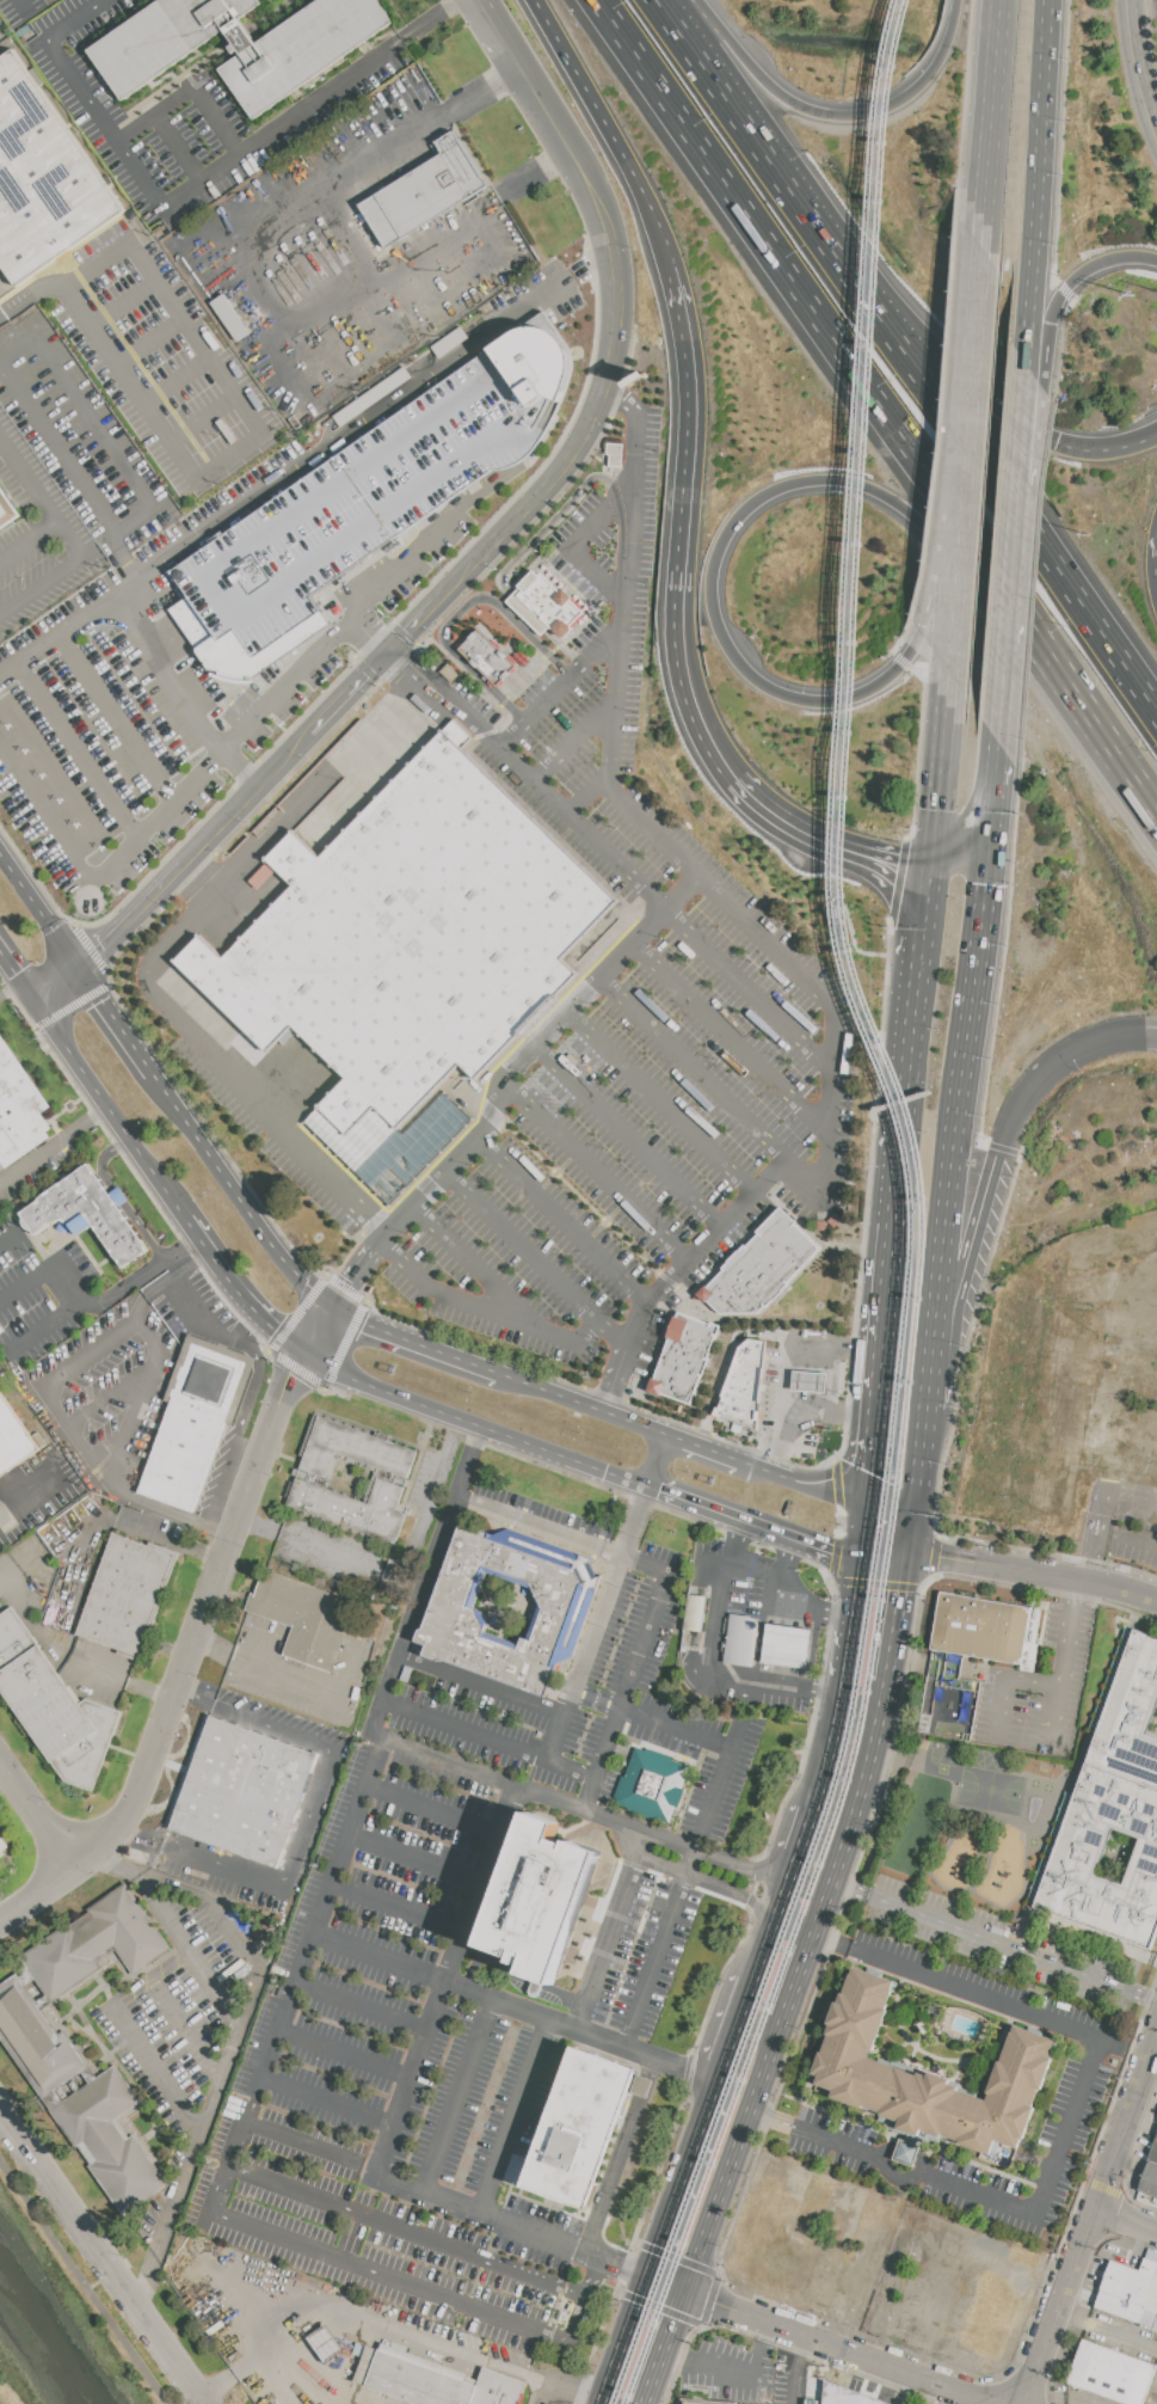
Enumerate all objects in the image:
parking lot: (1156, 1)
road: (19, 7)
road: (78, 19)
road: (491, 20)
building: (238, 44)
road: (571, 62)
road: (1137, 67)
road: (190, 90)
road: (722, 93)
road: (312, 103)
road: (836, 115)
road: (109, 123)
road: (993, 127)
road: (181, 147)
road: (357, 168)
building: (43, 176)
road: (1034, 183)
road: (641, 184)
building: (424, 192)
road: (484, 208)
road: (62, 264)
road: (1072, 286)
power tower: (1133, 296)
road: (367, 311)
building: (230, 315)
road: (917, 319)
road: (616, 331)
road: (20, 350)
road: (855, 369)
road: (1021, 421)
road: (93, 423)
road: (1141, 440)
road: (1141, 443)
road: (62, 446)
road: (973, 447)
road: (1090, 450)
road: (227, 453)
building: (614, 455)
road: (306, 460)
road: (967, 474)
road: (868, 489)
road: (42, 496)
road: (627, 496)
building: (365, 503)
road: (690, 511)
building: (7, 513)
road: (117, 538)
road: (419, 540)
road: (30, 542)
road: (943, 544)
road: (573, 546)
road: (518, 559)
parking lot: (130, 582)
road: (41, 585)
building: (548, 602)
road: (1007, 607)
road: (460, 612)
building: (525, 613)
road: (416, 624)
road: (369, 636)
road: (620, 644)
traffic signals: (387, 655)
building: (487, 660)
road: (166, 677)
road: (285, 686)
road: (349, 693)
road: (857, 695)
road: (117, 720)
road: (507, 742)
road: (576, 742)
road: (80, 753)
road: (938, 774)
road: (1132, 777)
road: (320, 792)
road: (589, 796)
road: (246, 798)
road: (767, 805)
road: (983, 808)
road: (584, 830)
road: (869, 851)
road: (103, 876)
road: (39, 910)
road: (133, 918)
road: (906, 920)
building: (410, 944)
road: (919, 955)
road: (1, 961)
traffic signals: (80, 968)
road: (16, 977)
road: (56, 985)
road: (10, 989)
road: (750, 991)
traffic signals: (32, 1001)
road: (115, 1019)
parking lot: (614, 1030)
road: (1128, 1036)
road: (733, 1040)
road: (965, 1050)
road: (1060, 1057)
road: (696, 1068)
road: (503, 1083)
road: (904, 1099)
road: (663, 1100)
building: (19, 1109)
road: (107, 1110)
road: (628, 1136)
road: (53, 1146)
road: (304, 1151)
road: (104, 1160)
road: (595, 1172)
road: (818, 1177)
road: (989, 1192)
road: (235, 1194)
road: (118, 1197)
road: (897, 1208)
building: (88, 1214)
railway: (915, 1215)
railway: (925, 1215)
road: (565, 1219)
road: (186, 1224)
road: (142, 1233)
road: (7, 1239)
road: (1155, 1239)
road: (537, 1257)
road: (474, 1267)
road: (41, 1270)
building: (757, 1270)
road: (1083, 1288)
road: (239, 1298)
road: (890, 1304)
road: (99, 1306)
traffic signals: (333, 1306)
road: (363, 1324)
road: (1107, 1326)
road: (204, 1332)
road: (743, 1333)
road: (948, 1333)
road: (836, 1348)
road: (435, 1351)
traffic signals: (303, 1355)
building: (683, 1357)
road: (487, 1370)
road: (1126, 1379)
building: (808, 1381)
building: (743, 1382)
road: (938, 1385)
parking lot: (1121, 1388)
road: (584, 1405)
road: (70, 1410)
road: (804, 1411)
road: (1138, 1416)
building: (195, 1419)
road: (880, 1422)
road: (478, 1428)
building: (13, 1439)
road: (707, 1451)
road: (658, 1462)
road: (47, 1466)
building: (389, 1479)
road: (924, 1480)
road: (837, 1498)
road: (712, 1513)
traffic signals: (875, 1513)
road: (10, 1519)
road: (121, 1522)
road: (542, 1523)
road: (1153, 1527)
road: (1127, 1539)
road: (872, 1540)
road: (817, 1550)
traffic signals: (912, 1554)
road: (891, 1563)
road: (758, 1566)
traffic signals: (868, 1569)
road: (1035, 1575)
road: (401, 1578)
road: (11, 1581)
building: (128, 1595)
building: (560, 1595)
road: (804, 1596)
building: (697, 1614)
building: (302, 1617)
road: (861, 1618)
road: (900, 1618)
building: (983, 1627)
road: (197, 1639)
building: (743, 1642)
building: (787, 1648)
gas station: (787, 1648)
parking lot: (629, 1661)
road: (275, 1663)
road: (1060, 1663)
road: (715, 1664)
road: (635, 1667)
road: (1002, 1678)
road: (129, 1682)
parking lot: (1042, 1686)
road: (509, 1693)
building: (54, 1706)
road: (880, 1728)
road: (677, 1729)
road: (553, 1736)
road: (493, 1737)
road: (837, 1741)
road: (480, 1777)
building: (651, 1784)
road: (719, 1785)
park: (991, 1787)
building: (244, 1791)
building: (1110, 1811)
road: (507, 1814)
road: (38, 1816)
road: (303, 1820)
road: (854, 1830)
building: (2, 1845)
road: (413, 1858)
road: (714, 1859)
road: (799, 1859)
road: (702, 1877)
building: (539, 1896)
road: (396, 1902)
road: (777, 1903)
road: (826, 1912)
road: (171, 1919)
road: (800, 1921)
road: (770, 1942)
road: (996, 1942)
road: (831, 1943)
parking lot: (1003, 1944)
road: (659, 1948)
road: (591, 1971)
road: (441, 1975)
road: (802, 1979)
building: (535, 1987)
road: (362, 2004)
parking lot: (433, 2017)
road: (739, 2029)
road: (186, 2030)
road: (425, 2041)
building: (43, 2049)
road: (344, 2053)
road: (229, 2062)
parking lot: (1089, 2065)
road: (263, 2067)
road: (158, 2072)
building: (927, 2075)
road: (461, 2097)
road: (327, 2103)
road: (512, 2116)
road: (762, 2117)
road: (627, 2123)
road: (1127, 2123)
building: (580, 2128)
road: (1063, 2130)
building: (905, 2152)
building: (1153, 2153)
road: (737, 2158)
road: (685, 2179)
building: (1150, 2181)
road: (1127, 2219)
road: (405, 2232)
road: (101, 2256)
building: (1131, 2281)
road: (84, 2282)
road: (103, 2283)
road: (669, 2287)
road: (1059, 2305)
building: (1120, 2307)
road: (362, 2314)
building: (1155, 2328)
road: (1107, 2330)
road: (627, 2342)
building: (326, 2343)
road: (667, 2349)
road: (839, 2349)
road: (734, 2369)
road: (801, 2371)
building: (1112, 2373)
building: (417, 2381)
road: (568, 2382)
building: (498, 2390)
building: (847, 2396)
road: (0, 2403)
building: (691, 2403)

